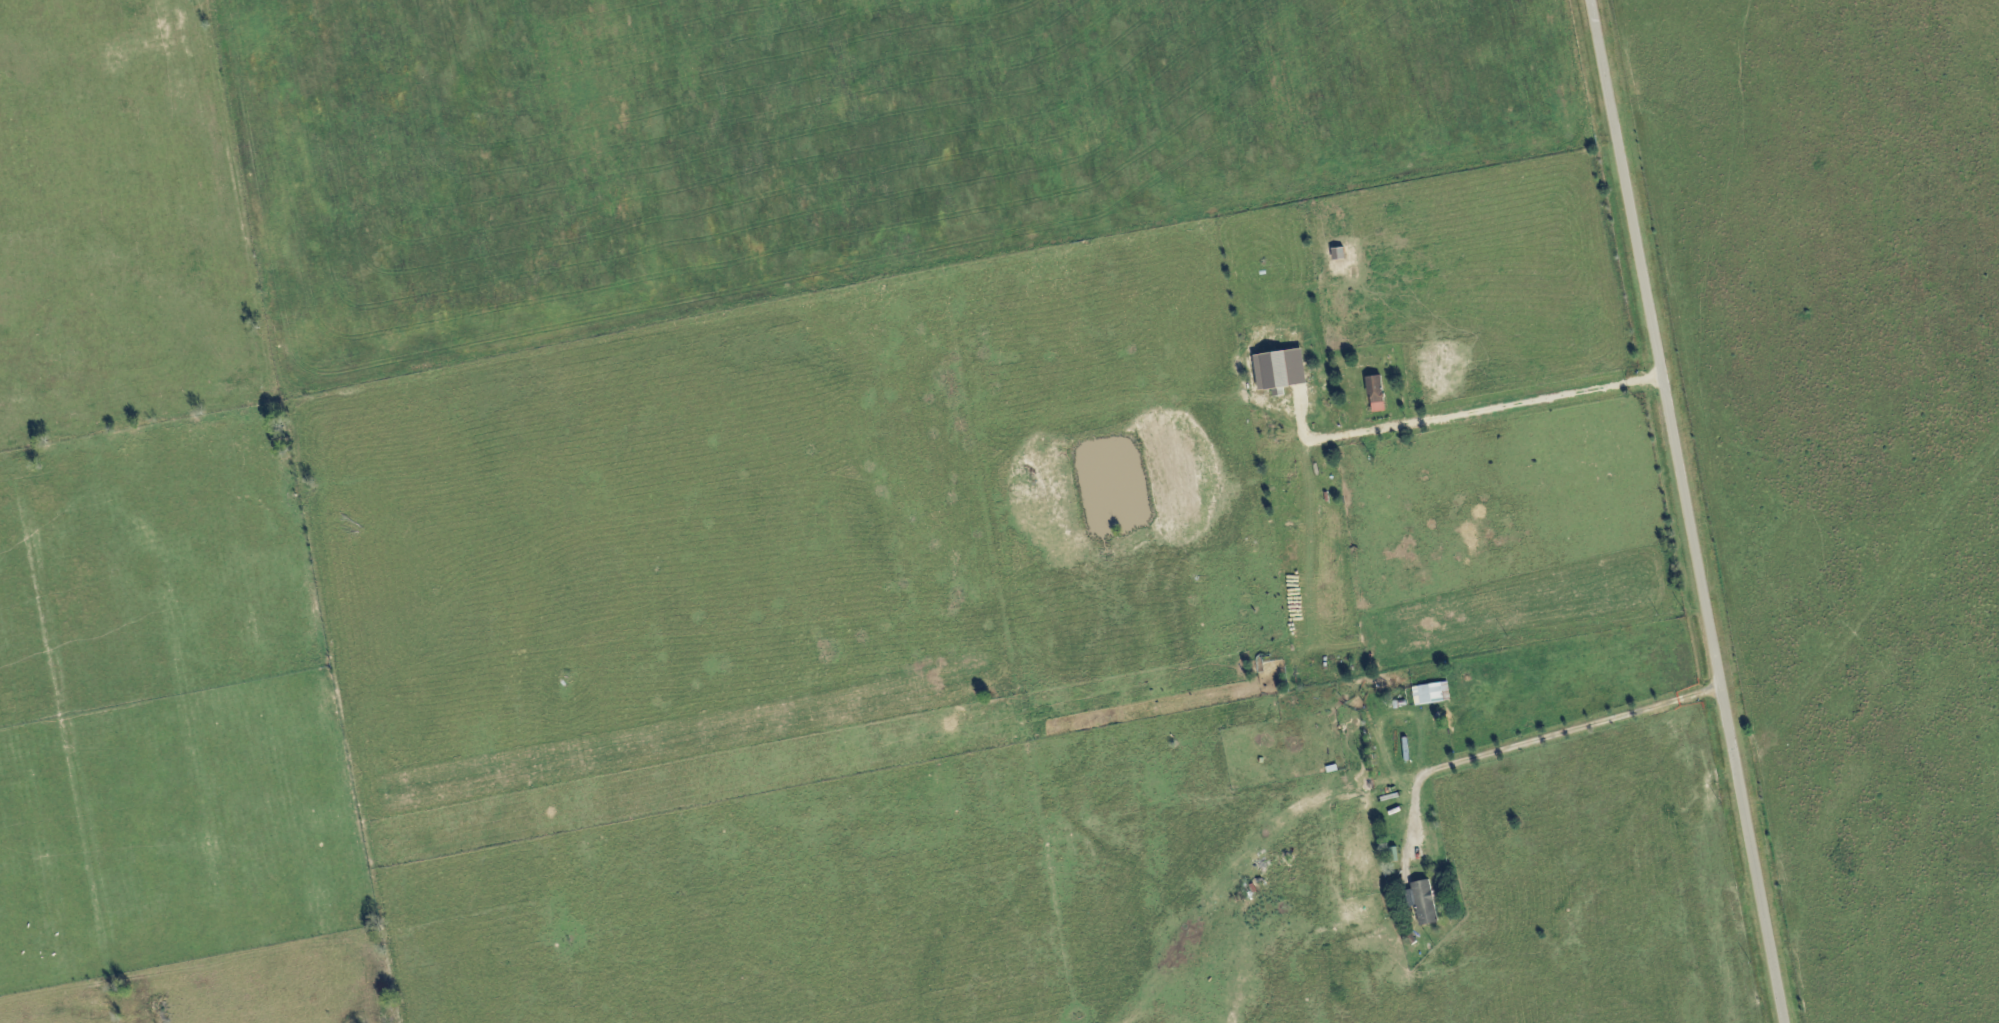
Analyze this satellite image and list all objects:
building: (1285, 370)
building: (1380, 394)
road: (1517, 410)
road: (1693, 509)
building: (1434, 694)
road: (1545, 743)
building: (1428, 903)

